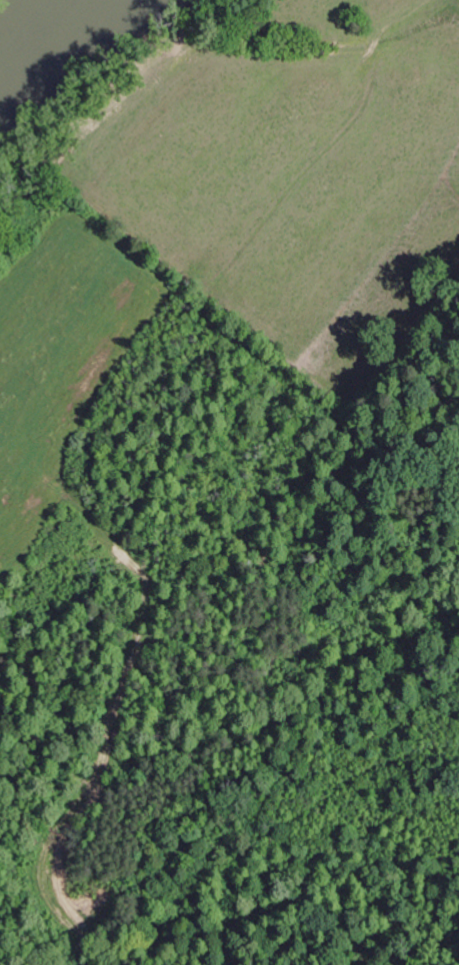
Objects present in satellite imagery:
river: (36, 37)

